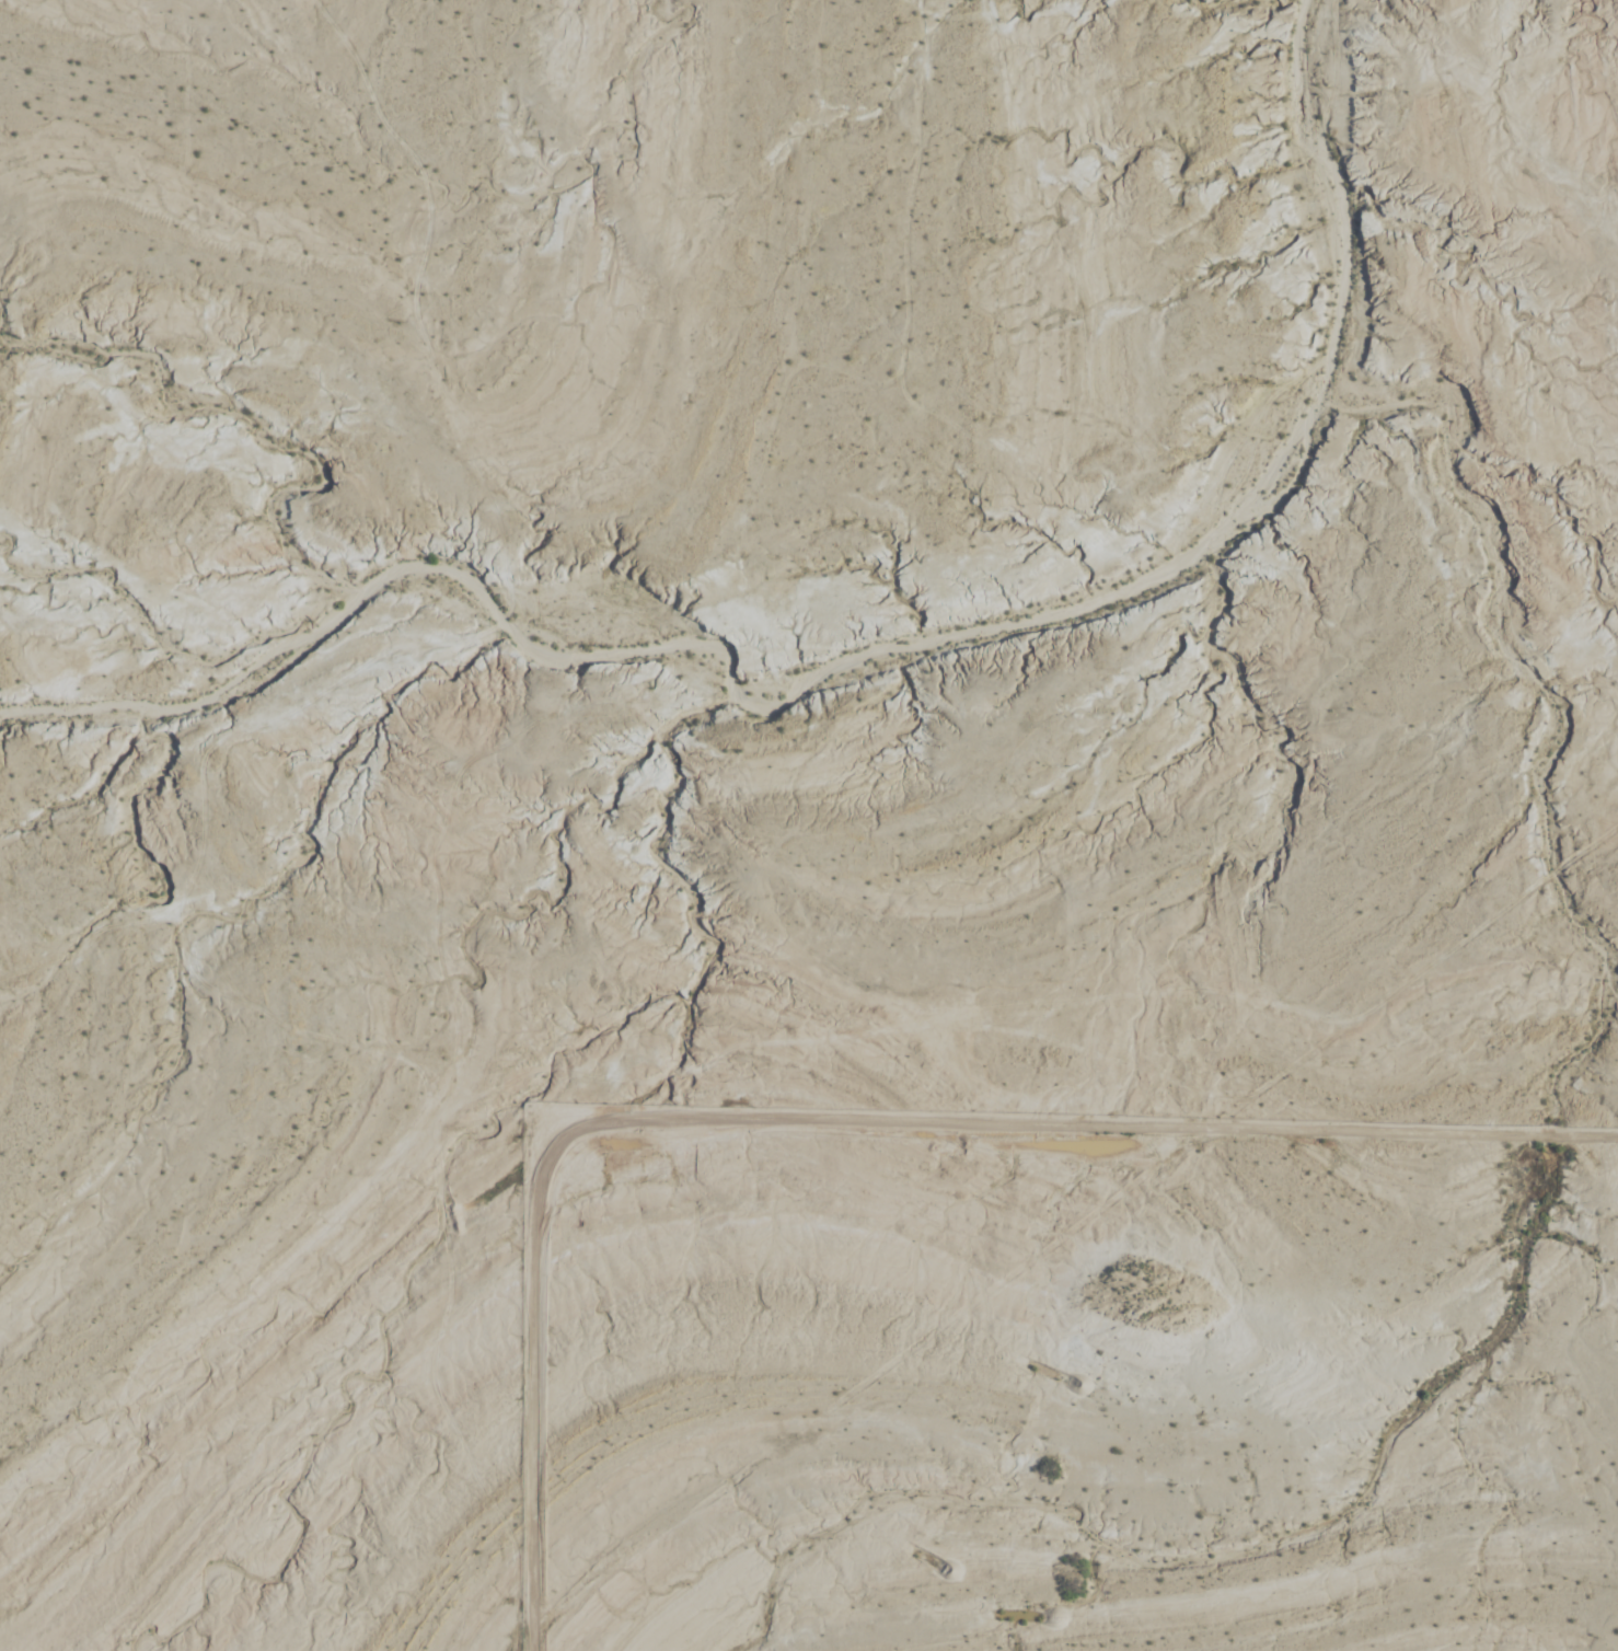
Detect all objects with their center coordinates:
landfill: (1489, 1392)

